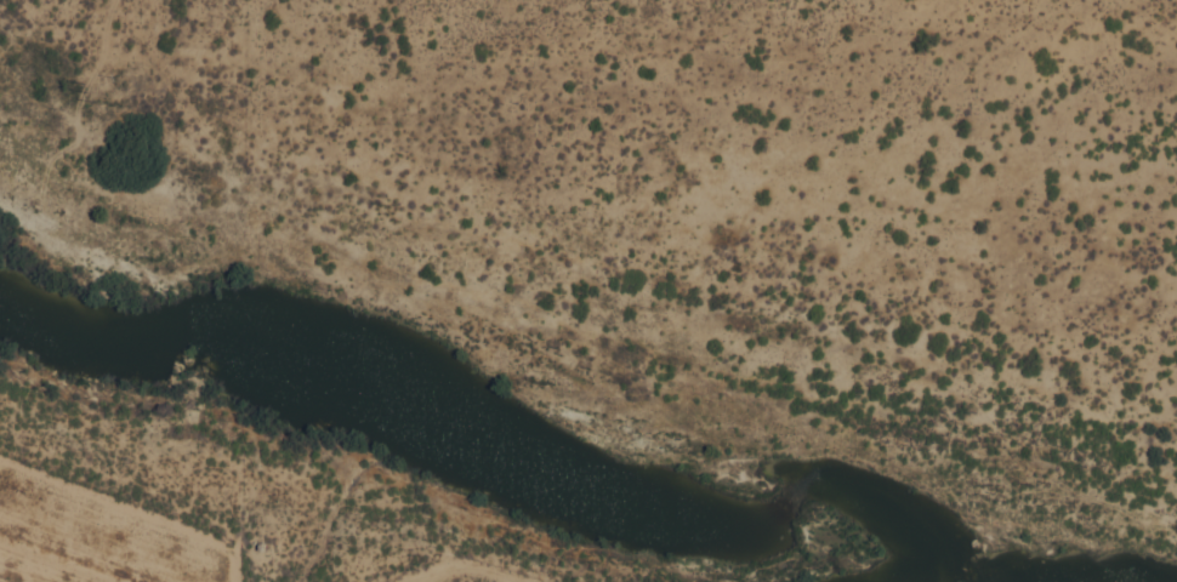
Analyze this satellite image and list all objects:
river: (490, 436)

